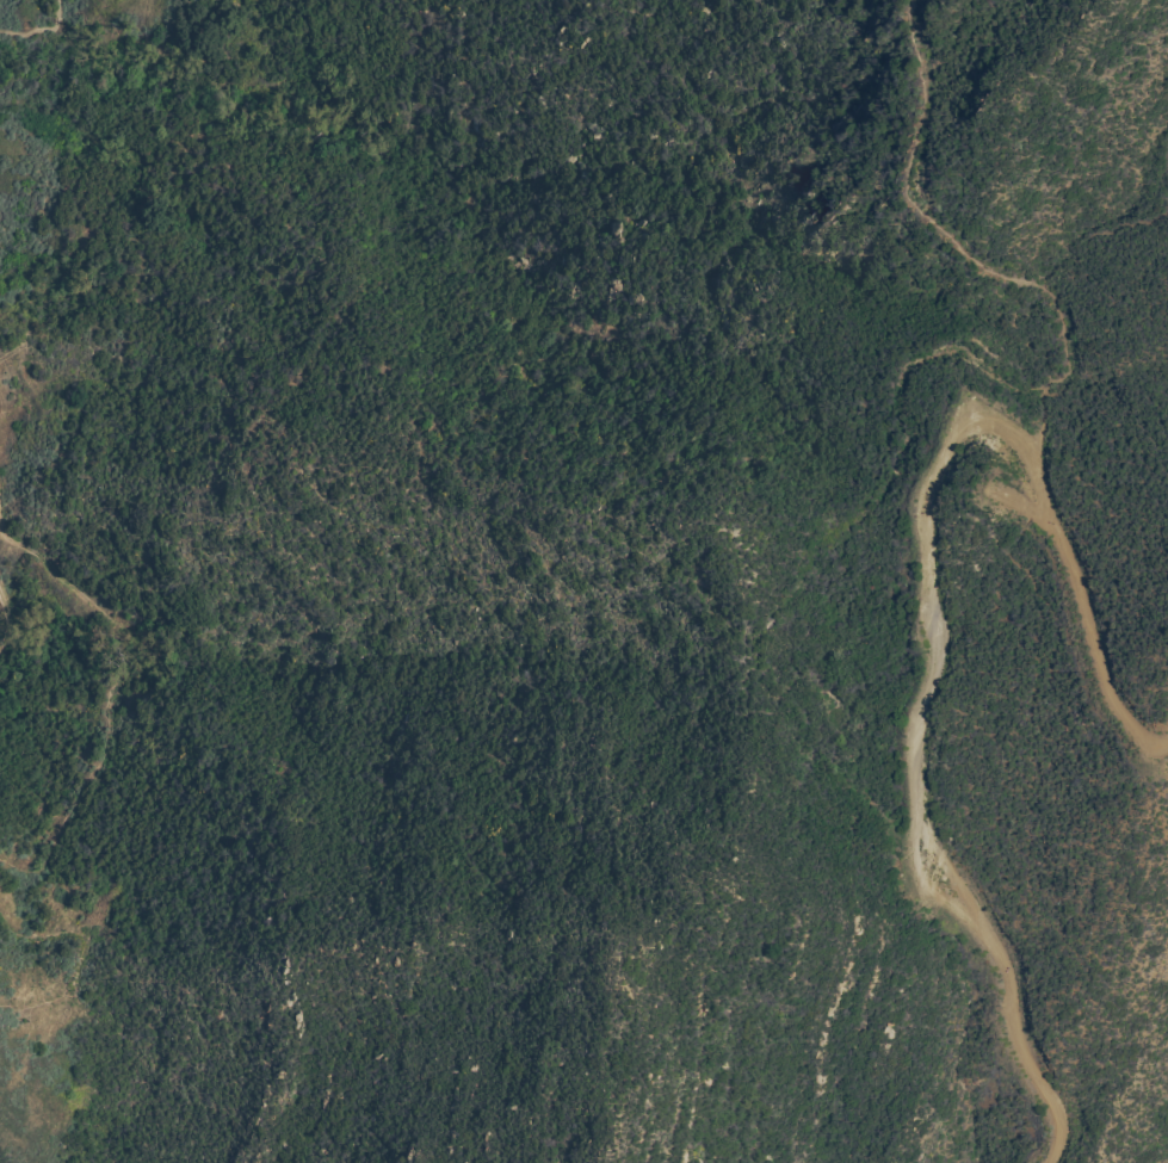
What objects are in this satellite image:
road: (41, 27)
road: (900, 384)
road: (1043, 422)
road: (1026, 506)
road: (933, 608)
road: (7, 623)
road: (118, 692)
road: (736, 699)
road: (953, 873)
road: (85, 952)

